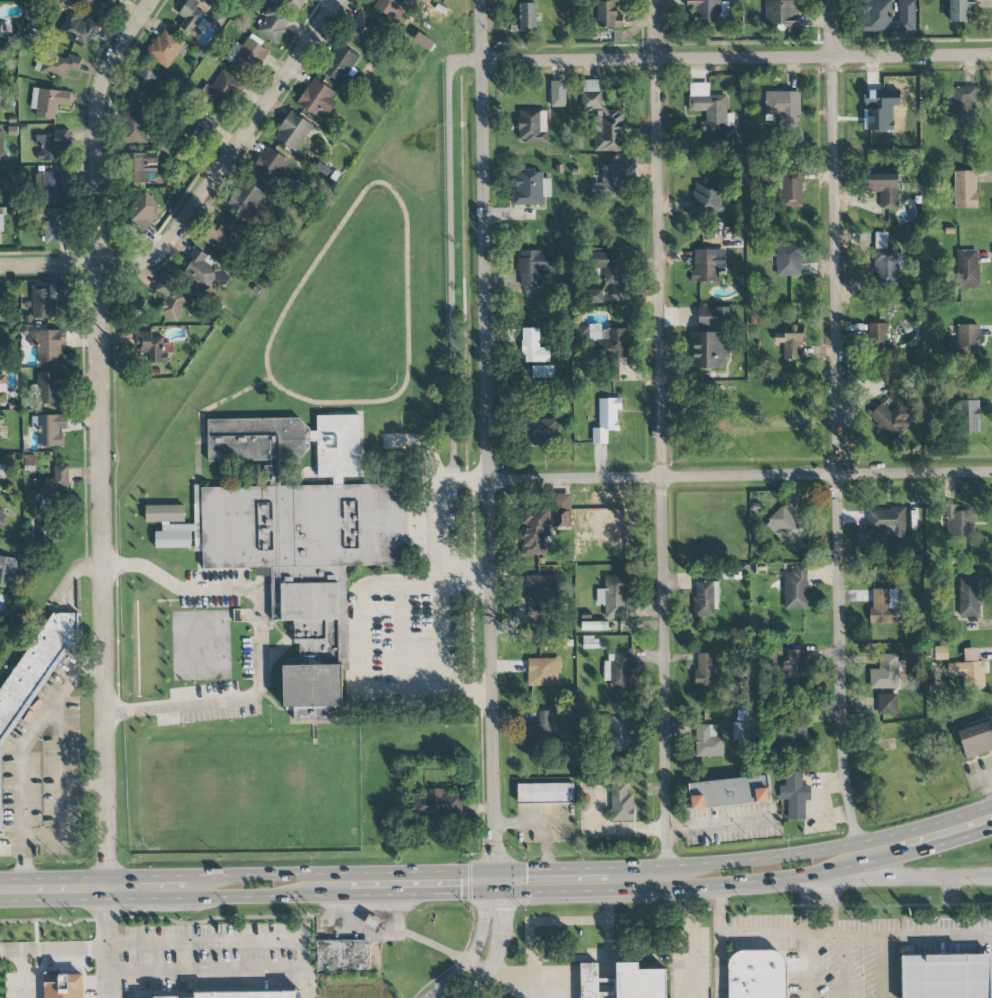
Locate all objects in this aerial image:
building: (113, 1)
building: (91, 3)
building: (295, 3)
building: (387, 6)
building: (958, 10)
building: (709, 11)
building: (781, 13)
building: (608, 15)
building: (888, 16)
building: (191, 17)
building: (525, 18)
building: (273, 23)
building: (77, 29)
building: (361, 29)
building: (165, 48)
building: (246, 55)
road: (736, 57)
building: (57, 64)
building: (339, 64)
building: (142, 84)
building: (223, 87)
building: (557, 94)
building: (317, 98)
building: (48, 102)
building: (963, 104)
building: (708, 108)
building: (783, 108)
building: (603, 119)
building: (532, 126)
building: (135, 127)
building: (294, 131)
building: (51, 144)
building: (1, 146)
building: (143, 166)
building: (269, 166)
building: (323, 169)
building: (335, 177)
building: (1, 179)
building: (609, 181)
building: (54, 188)
building: (530, 188)
building: (884, 188)
building: (791, 190)
building: (966, 190)
road: (210, 196)
building: (707, 197)
building: (246, 200)
building: (274, 200)
building: (144, 211)
building: (1, 225)
building: (56, 226)
building: (221, 234)
road: (449, 255)
building: (790, 259)
building: (886, 261)
building: (609, 265)
building: (706, 266)
building: (535, 267)
building: (201, 268)
building: (967, 269)
building: (593, 296)
building: (45, 299)
building: (171, 299)
building: (886, 307)
building: (713, 317)
building: (580, 333)
building: (877, 336)
building: (964, 339)
building: (607, 342)
building: (792, 342)
building: (47, 344)
building: (152, 346)
building: (533, 347)
building: (709, 350)
building: (542, 371)
building: (48, 388)
road: (288, 388)
building: (3, 389)
building: (893, 415)
building: (968, 416)
building: (606, 419)
road: (838, 422)
building: (49, 429)
building: (542, 431)
road: (661, 432)
road: (109, 436)
road: (486, 440)
building: (2, 471)
road: (739, 475)
building: (52, 484)
building: (164, 513)
building: (1, 517)
building: (957, 521)
building: (617, 523)
building: (887, 525)
building: (785, 526)
building: (542, 528)
building: (862, 539)
building: (300, 547)
building: (8, 572)
road: (463, 582)
road: (438, 583)
building: (795, 588)
road: (182, 589)
building: (538, 592)
building: (968, 595)
building: (613, 596)
building: (705, 598)
building: (884, 606)
building: (940, 653)
building: (795, 668)
building: (34, 670)
building: (969, 670)
building: (543, 671)
building: (621, 671)
building: (706, 671)
building: (884, 673)
road: (237, 700)
road: (274, 704)
building: (886, 704)
building: (538, 728)
building: (739, 731)
building: (620, 734)
building: (977, 740)
building: (707, 742)
road: (18, 753)
road: (60, 784)
building: (728, 792)
building: (545, 793)
building: (794, 795)
building: (621, 802)
building: (432, 804)
road: (718, 822)
road: (10, 847)
road: (831, 847)
road: (587, 868)
road: (915, 872)
traffic signals: (494, 880)
road: (753, 881)
road: (818, 881)
road: (492, 883)
road: (256, 885)
road: (806, 910)
road: (719, 911)
road: (828, 912)
building: (372, 923)
road: (382, 933)
road: (605, 933)
road: (528, 936)
road: (869, 937)
road: (734, 938)
road: (228, 941)
road: (690, 942)
road: (82, 951)
building: (343, 955)
road: (567, 959)
road: (476, 966)
road: (879, 967)
road: (845, 968)
road: (205, 972)
building: (753, 973)
road: (22, 974)
road: (104, 974)
building: (947, 977)
road: (606, 979)
building: (589, 980)
building: (639, 982)
building: (63, 986)
road: (606, 986)
road: (607, 993)
building: (250, 995)
road: (607, 997)

